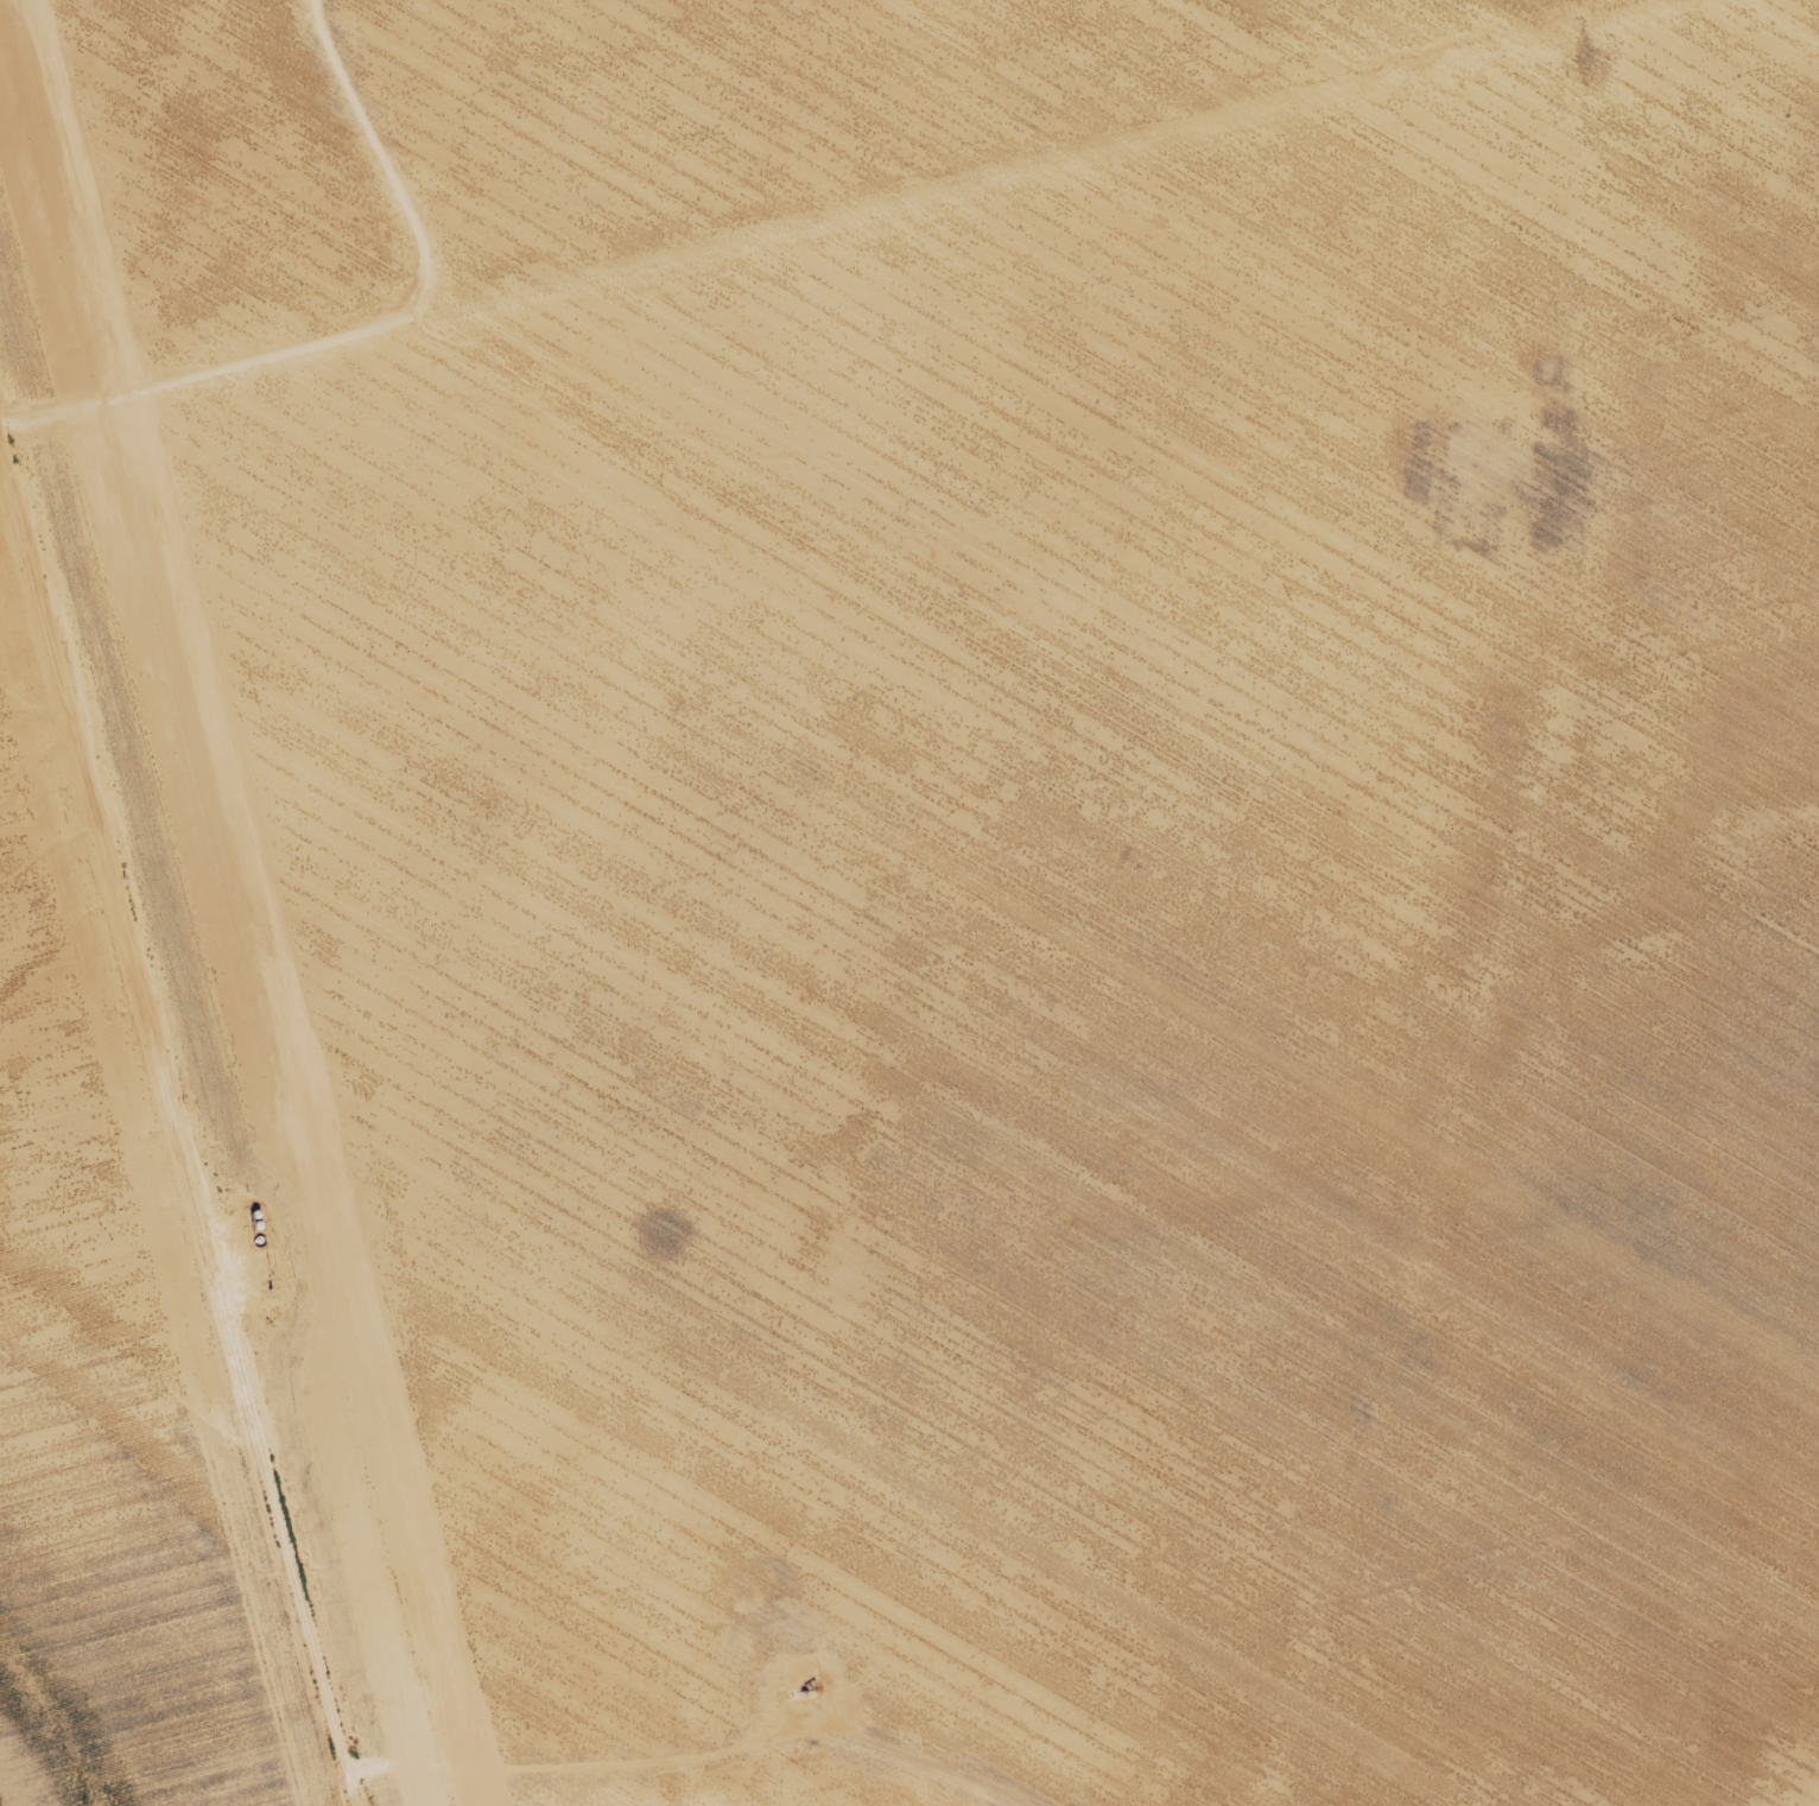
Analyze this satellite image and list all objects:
road: (923, 248)
road: (188, 1117)

